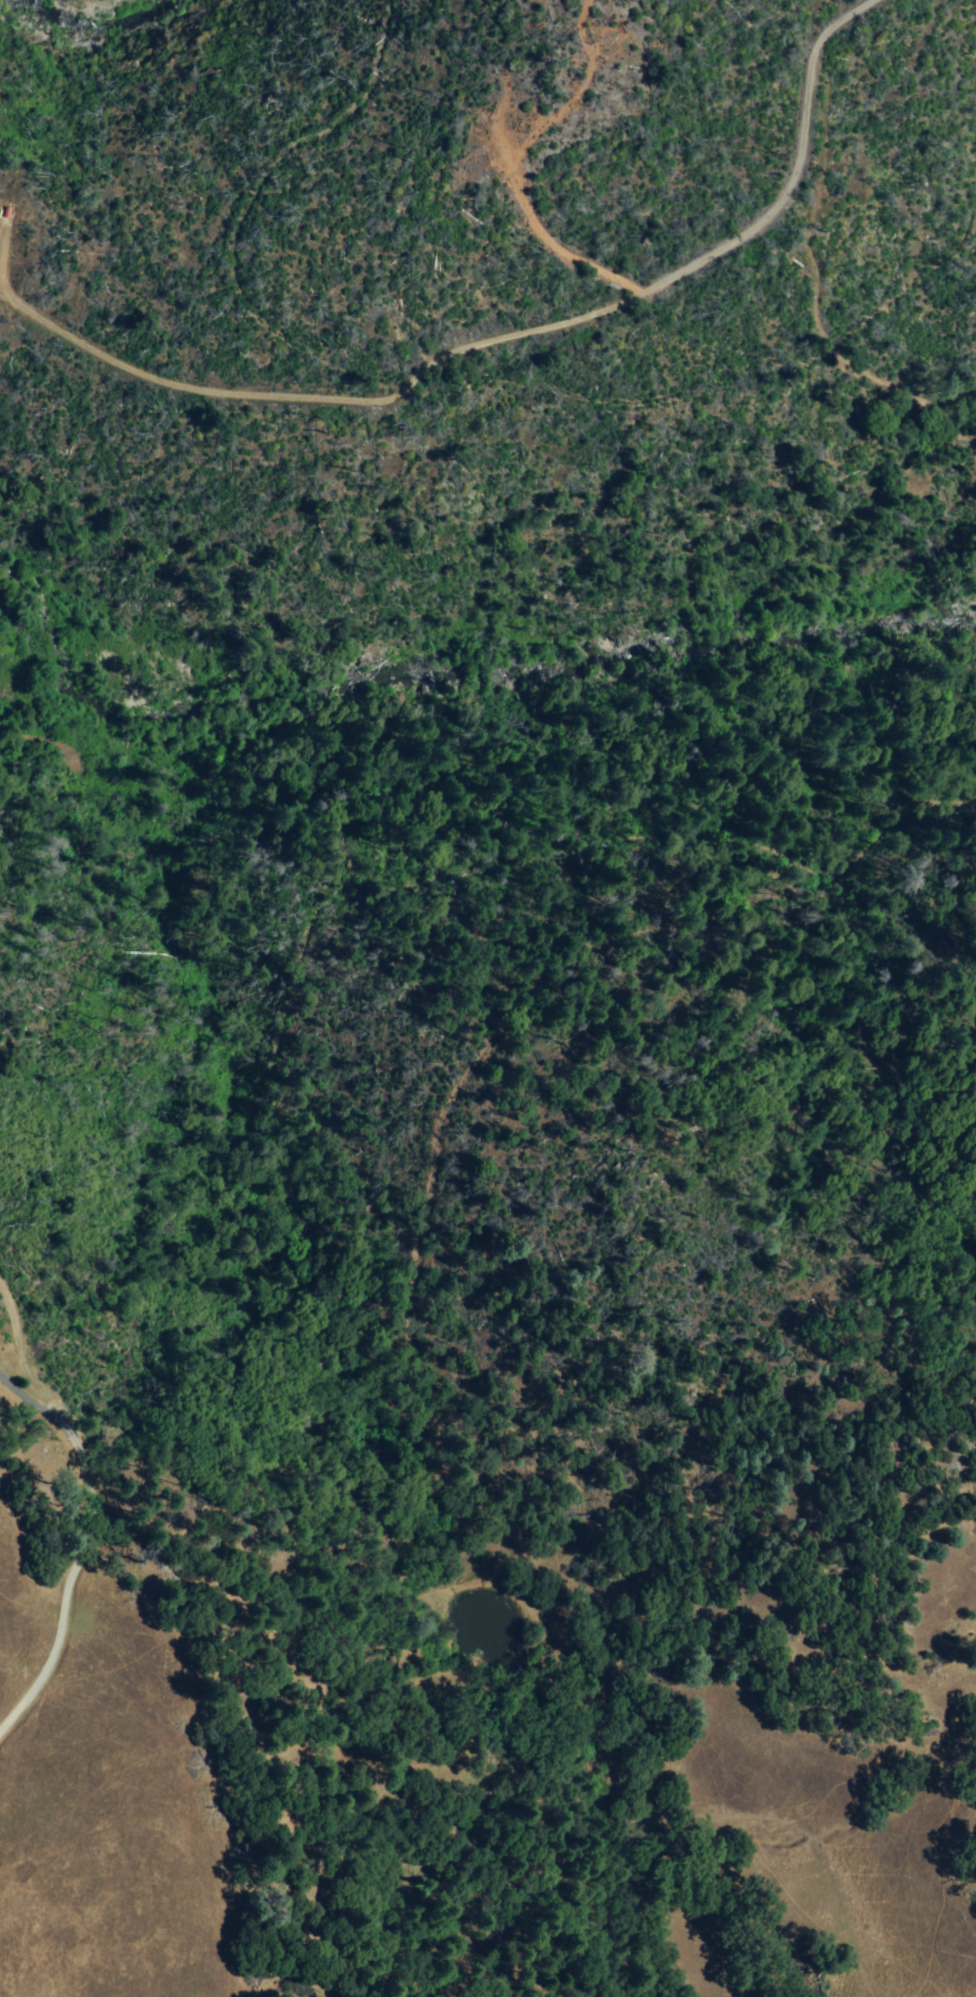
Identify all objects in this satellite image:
river: (81, 24)
road: (449, 350)
river: (464, 711)
road: (5, 1368)
road: (62, 1545)

